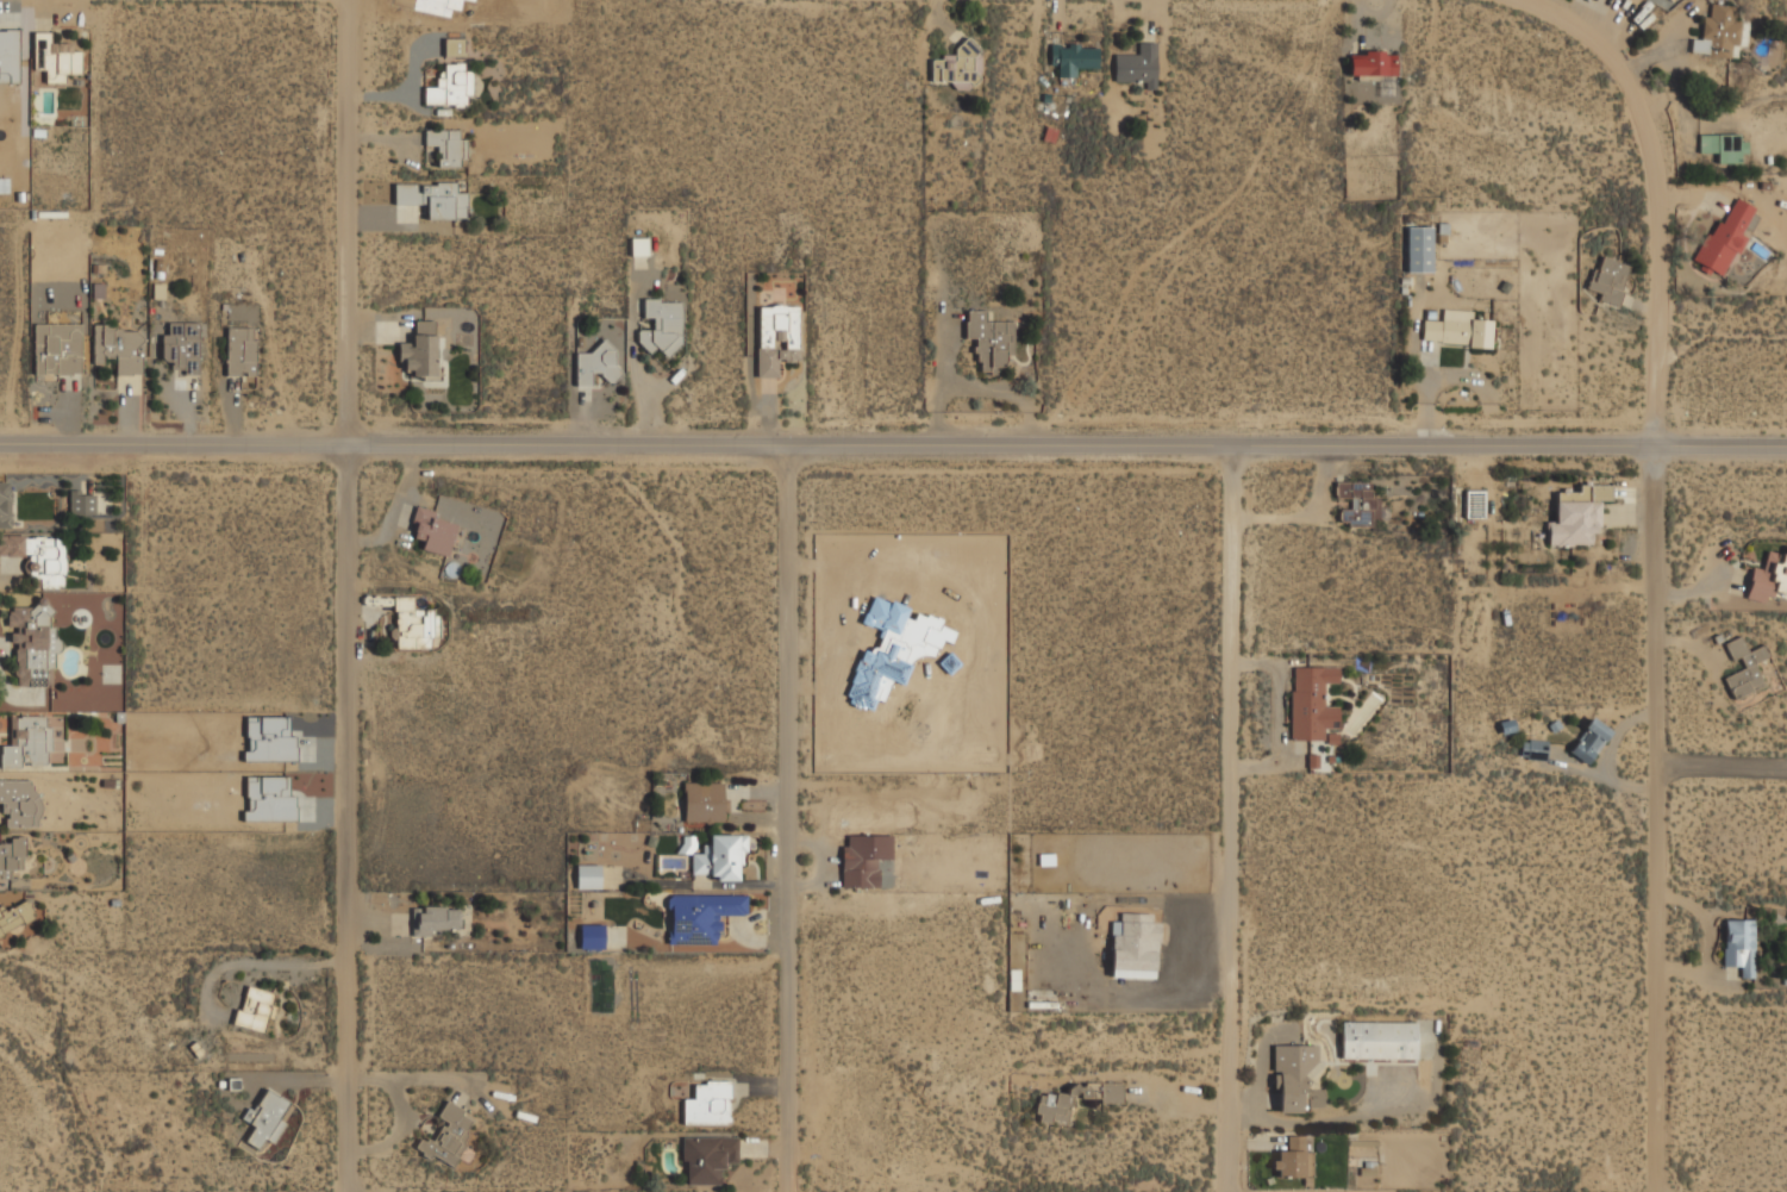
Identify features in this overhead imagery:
building: (1719, 33)
building: (54, 58)
building: (1071, 60)
building: (1372, 64)
building: (957, 65)
building: (1137, 67)
building: (449, 87)
building: (446, 148)
building: (1720, 148)
building: (432, 199)
building: (1724, 239)
building: (639, 246)
building: (1419, 250)
building: (1607, 281)
building: (661, 326)
building: (1456, 330)
building: (776, 338)
building: (989, 341)
building: (181, 348)
building: (118, 349)
building: (419, 350)
building: (56, 351)
building: (240, 352)
building: (594, 364)
road: (633, 366)
road: (893, 455)
building: (82, 503)
building: (5, 505)
building: (1357, 505)
building: (1475, 506)
building: (1577, 517)
building: (433, 531)
road: (1658, 556)
building: (38, 557)
building: (1770, 579)
road: (350, 595)
building: (406, 625)
building: (31, 644)
building: (1744, 668)
building: (1312, 704)
building: (1589, 741)
building: (26, 743)
building: (1533, 751)
road: (1722, 766)
building: (20, 804)
building: (704, 804)
road: (1233, 822)
road: (791, 824)
building: (11, 857)
building: (719, 859)
building: (863, 861)
building: (588, 878)
building: (15, 917)
building: (701, 918)
building: (435, 922)
building: (592, 937)
building: (1738, 946)
building: (1135, 947)
building: (254, 1010)
building: (1379, 1042)
building: (1292, 1076)
building: (1074, 1100)
building: (707, 1105)
building: (265, 1119)
building: (448, 1136)
building: (1291, 1159)
building: (707, 1160)

